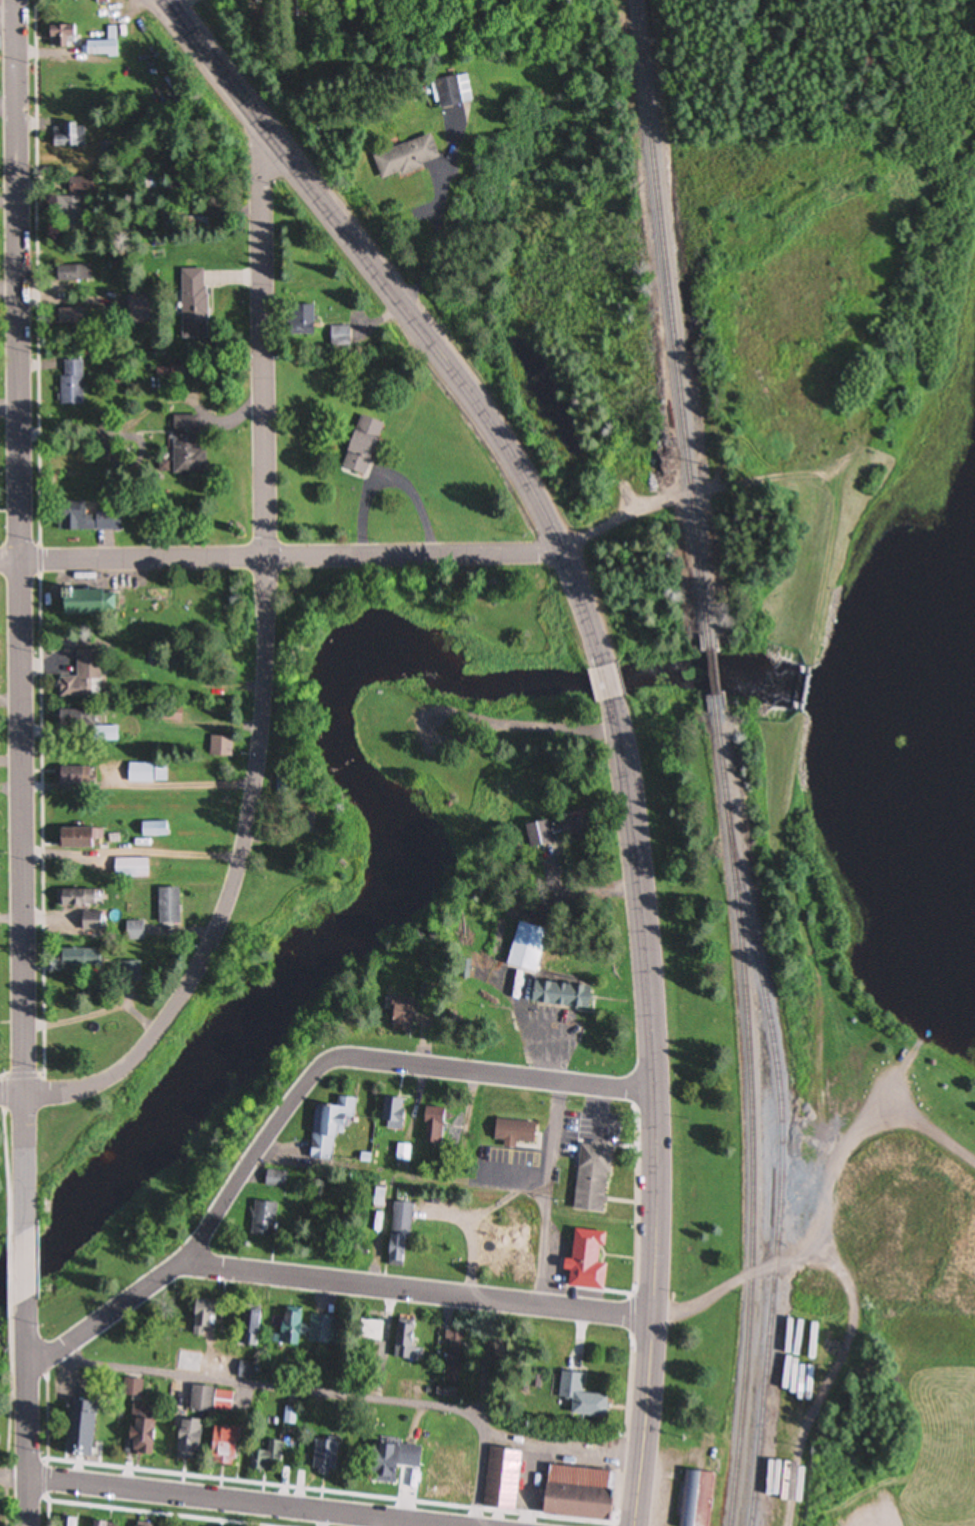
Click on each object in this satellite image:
building: (294, 8)
building: (63, 35)
building: (104, 45)
building: (451, 91)
building: (71, 136)
building: (404, 157)
building: (150, 183)
building: (72, 203)
building: (72, 273)
building: (192, 300)
road: (412, 317)
building: (299, 320)
railway: (673, 325)
building: (339, 336)
building: (70, 383)
building: (186, 445)
building: (360, 445)
building: (66, 512)
building: (106, 519)
road: (351, 556)
building: (83, 602)
road: (21, 615)
road: (263, 668)
river: (893, 672)
railway: (710, 673)
building: (81, 677)
road: (608, 683)
dam: (799, 691)
building: (168, 714)
building: (70, 718)
road: (531, 730)
building: (102, 734)
building: (219, 747)
park: (796, 755)
building: (145, 773)
building: (74, 777)
building: (304, 823)
river: (395, 827)
building: (153, 830)
building: (537, 836)
building: (73, 839)
building: (129, 869)
building: (70, 899)
park: (313, 899)
building: (167, 906)
building: (89, 921)
building: (133, 931)
building: (524, 948)
building: (75, 958)
building: (558, 995)
building: (400, 1015)
road: (12, 1096)
road: (295, 1100)
railway: (753, 1110)
road: (658, 1112)
building: (395, 1114)
road: (602, 1114)
building: (434, 1125)
building: (329, 1127)
parking lot: (588, 1131)
building: (519, 1132)
railway: (783, 1164)
parking lot: (514, 1165)
road: (402, 1176)
building: (597, 1177)
building: (275, 1180)
road: (548, 1195)
building: (263, 1220)
building: (398, 1235)
building: (582, 1263)
road: (28, 1265)
road: (547, 1305)
building: (201, 1319)
building: (289, 1328)
building: (251, 1329)
building: (319, 1331)
building: (369, 1331)
building: (405, 1340)
building: (187, 1363)
road: (315, 1392)
building: (579, 1398)
building: (211, 1401)
road: (30, 1412)
building: (83, 1429)
building: (139, 1430)
building: (187, 1441)
building: (221, 1448)
building: (268, 1457)
building: (325, 1458)
building: (390, 1462)
building: (437, 1486)
building: (545, 1487)
building: (695, 1499)
road: (235, 1502)
building: (766, 1510)
building: (69, 1523)
building: (104, 1525)
building: (141, 1525)

